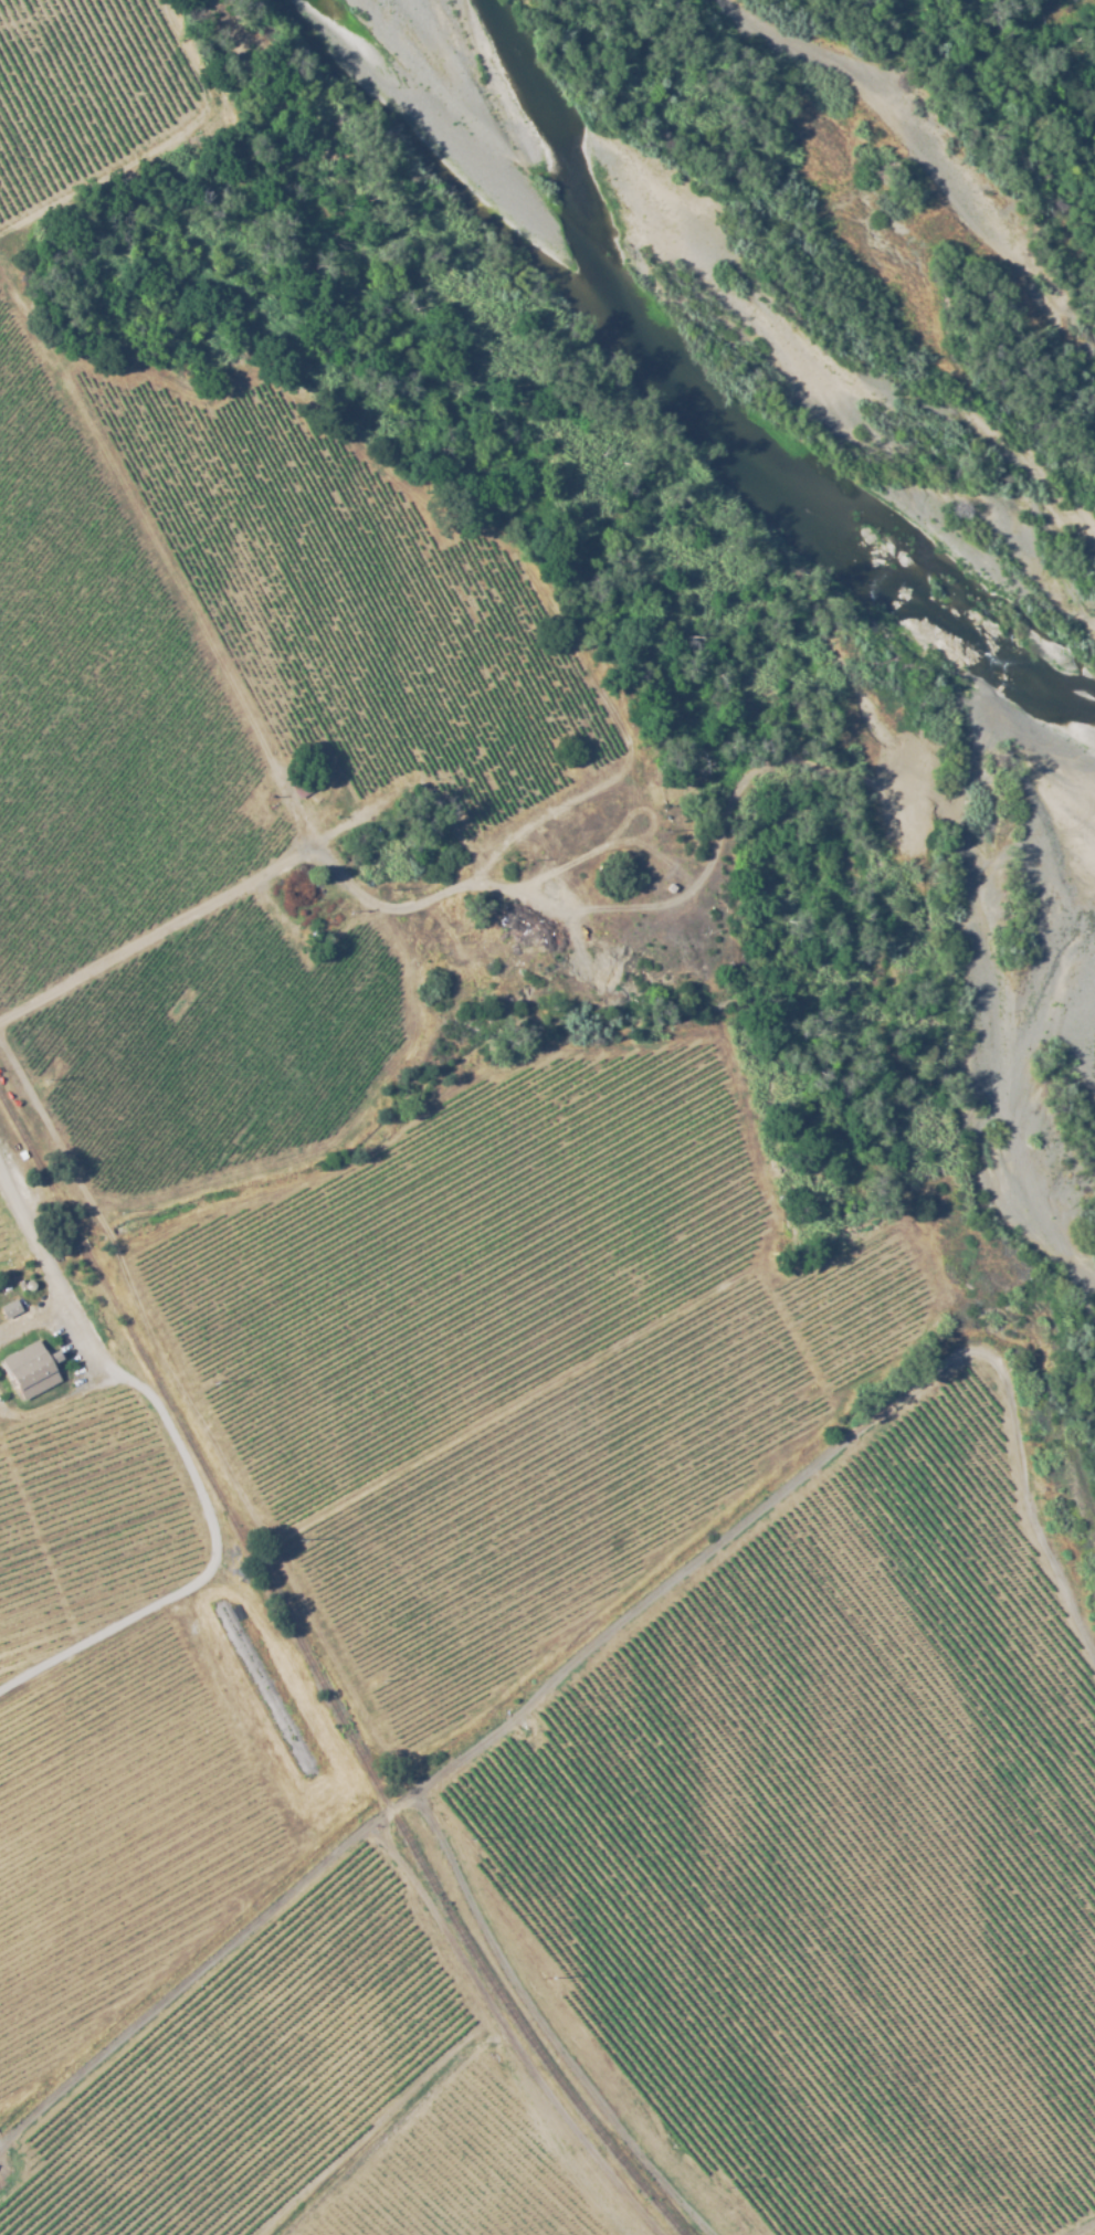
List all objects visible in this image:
river: (712, 281)
building: (296, 783)
road: (148, 945)
building: (10, 1310)
building: (31, 1370)
railway: (318, 1680)
road: (501, 1729)

